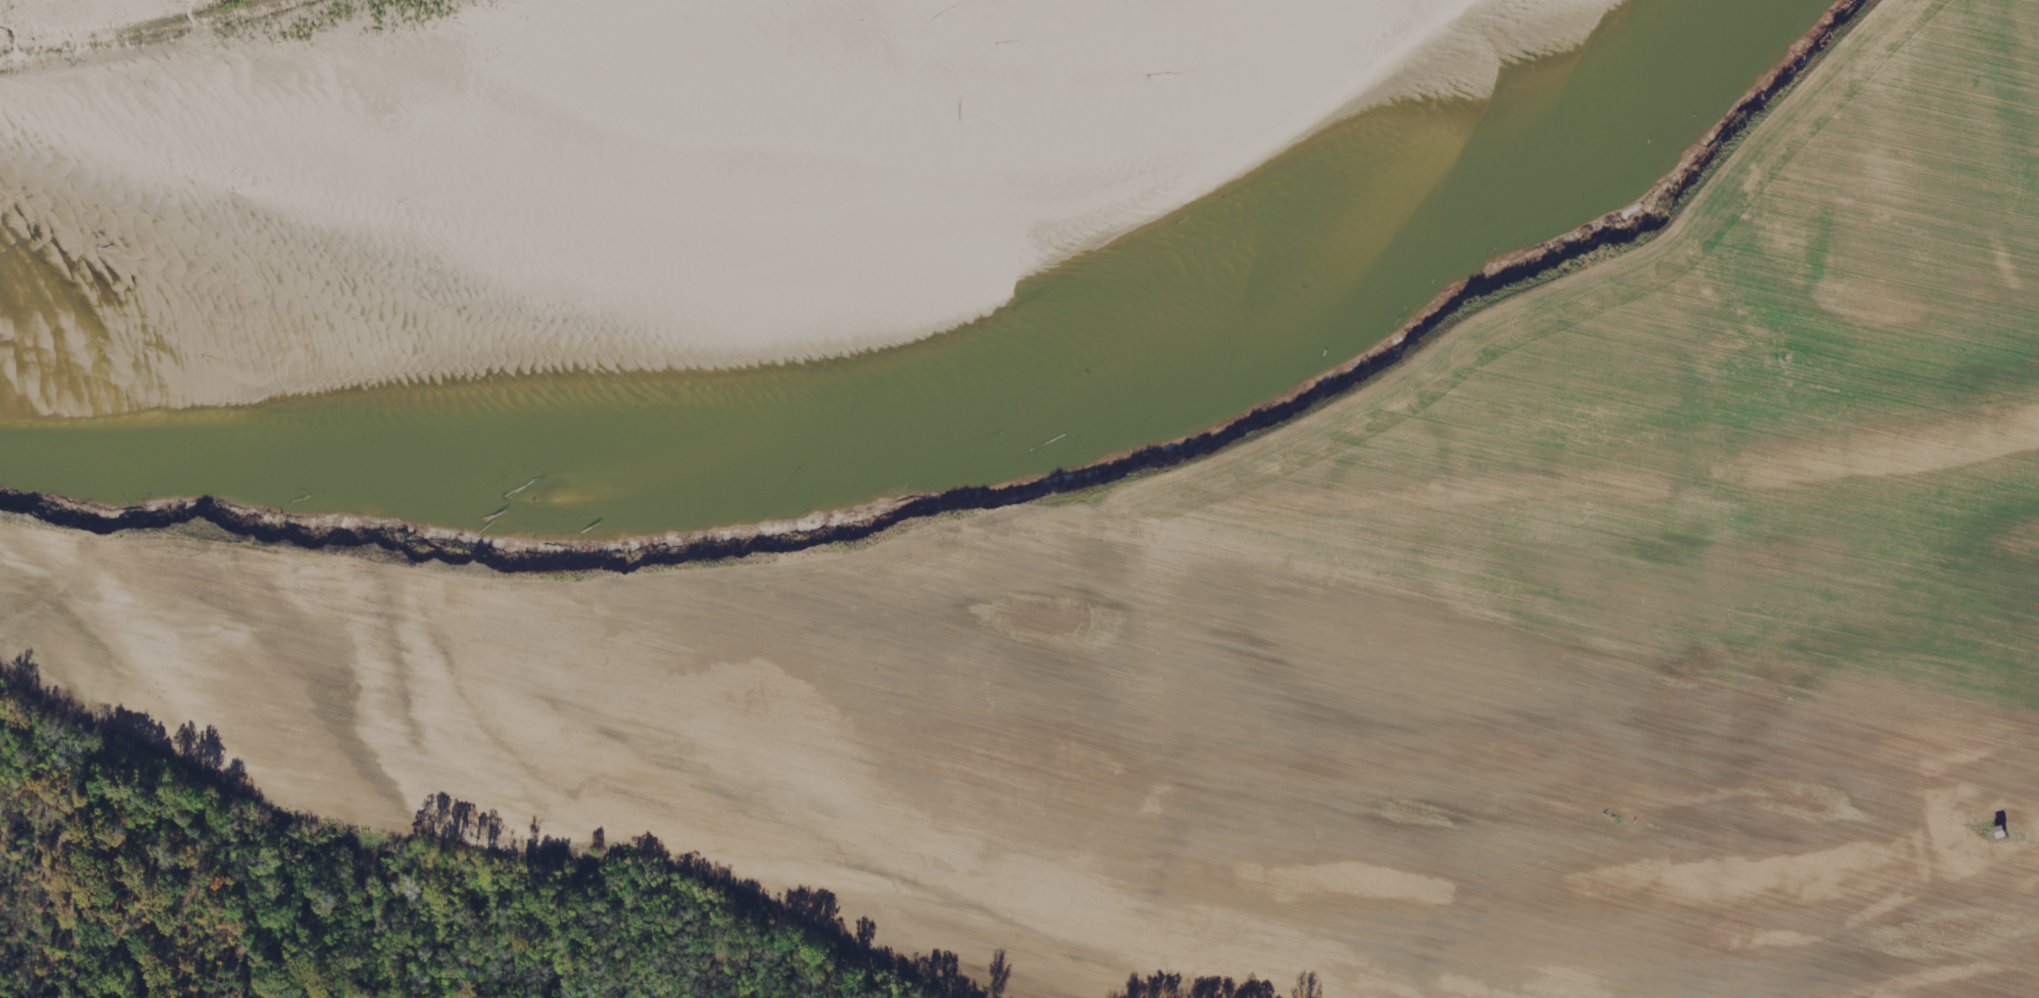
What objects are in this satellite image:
river: (215, 60)

